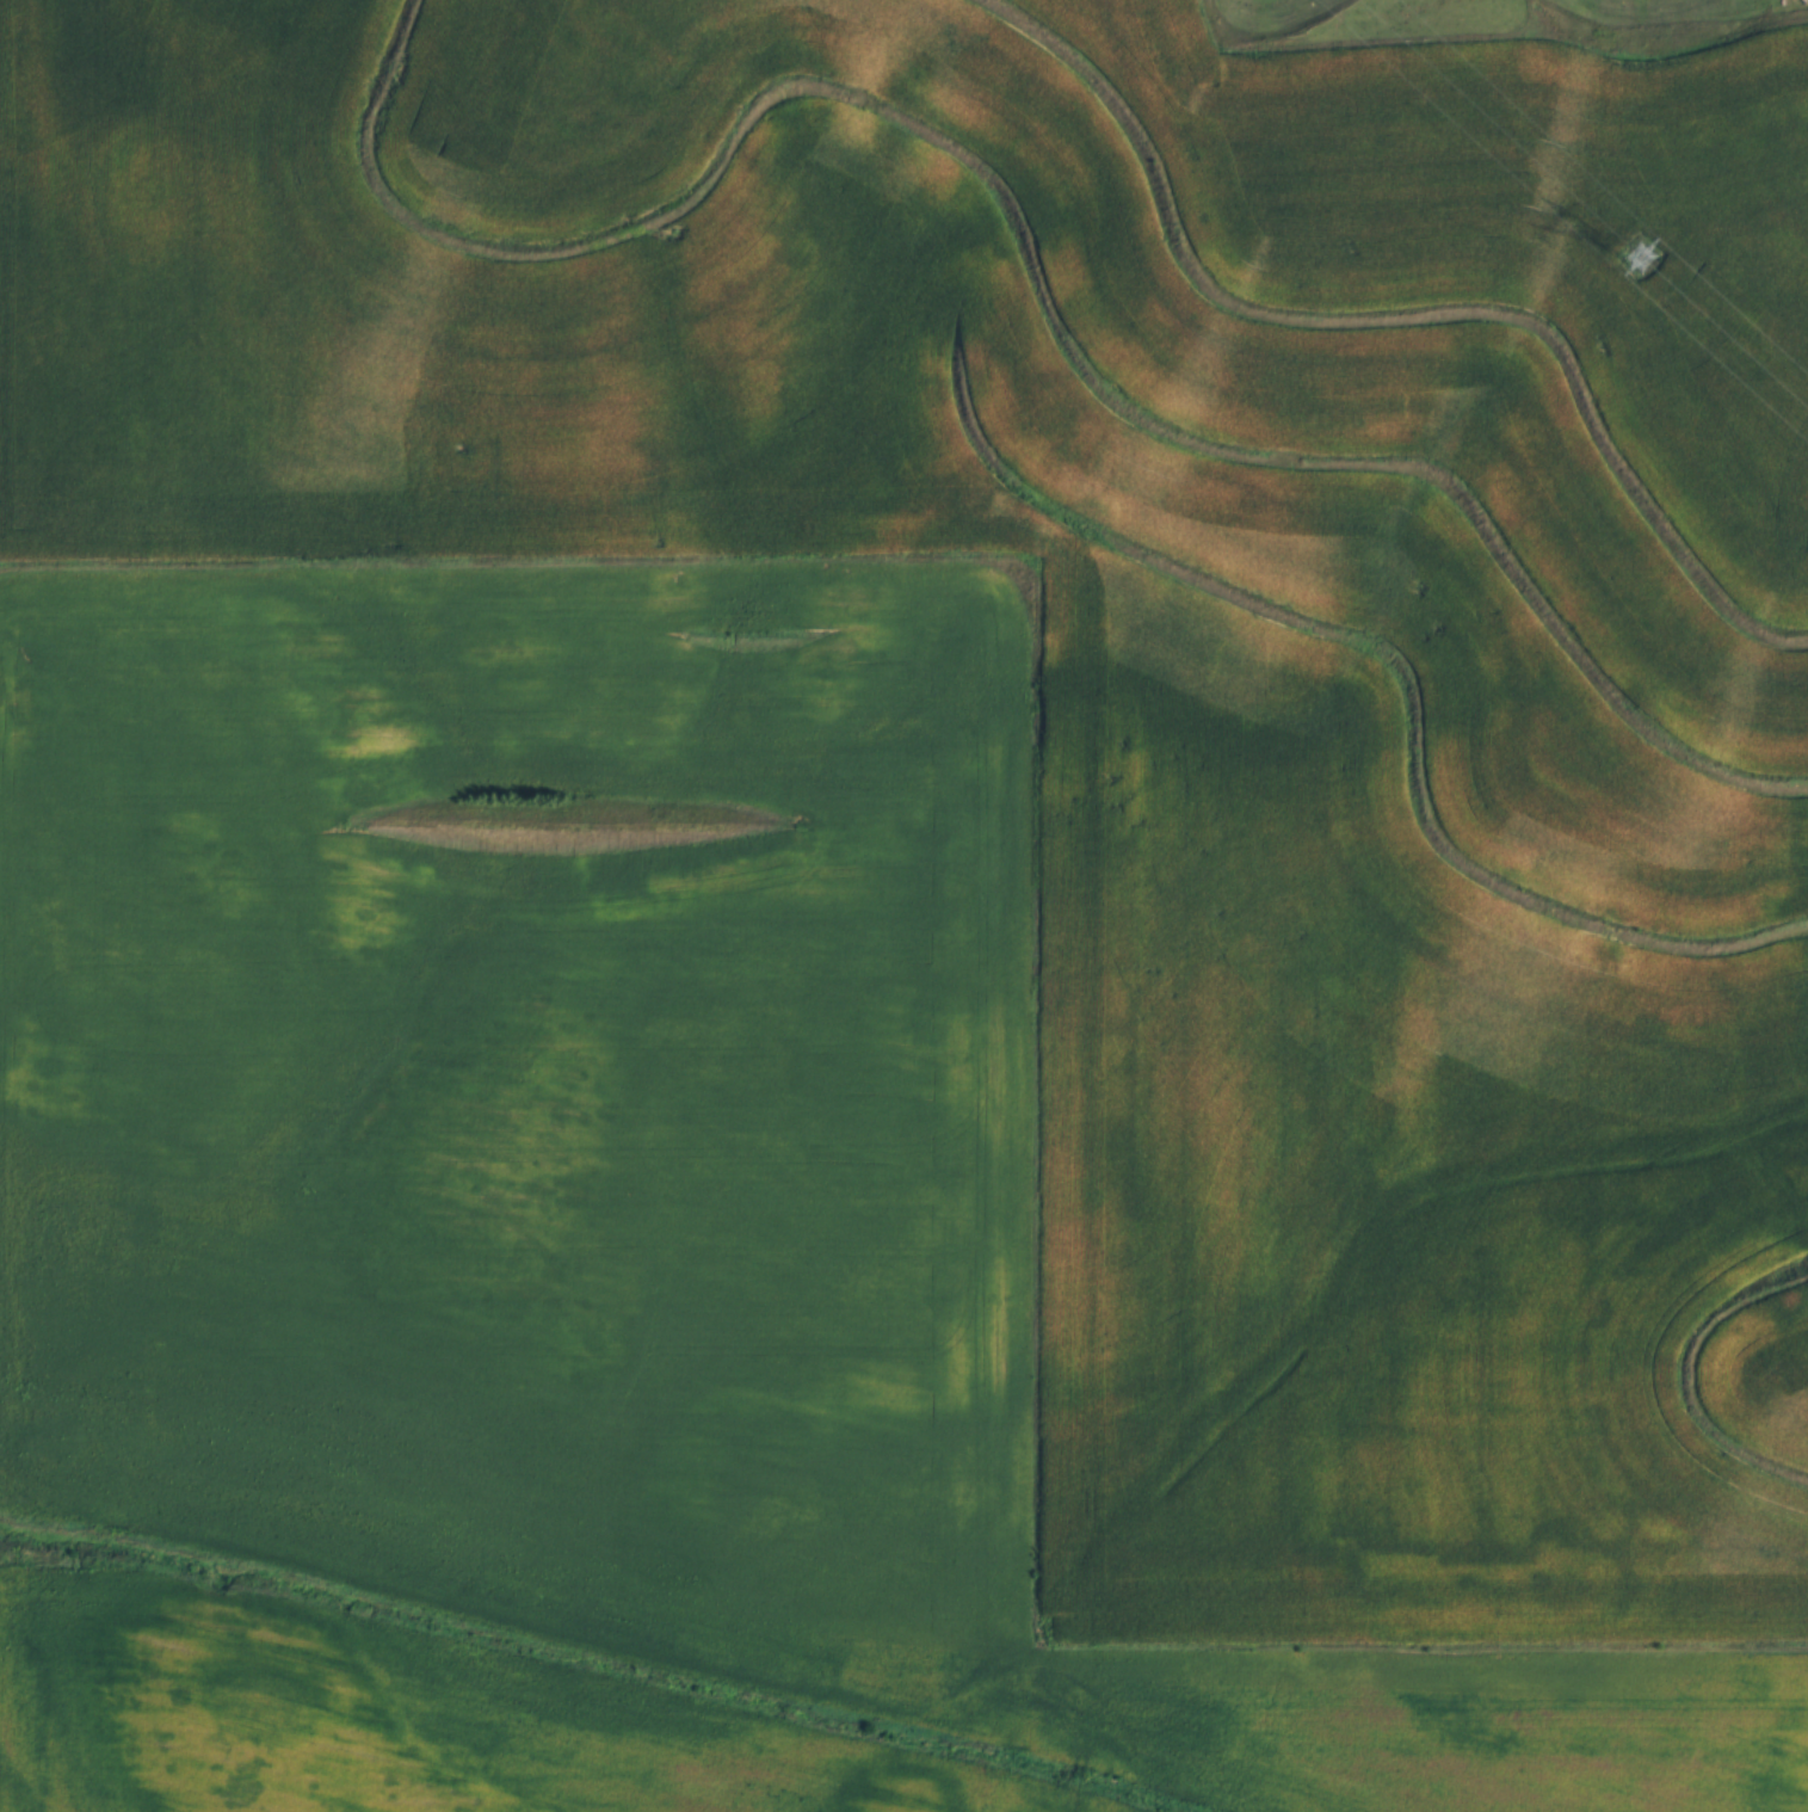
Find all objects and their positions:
power tower: (1670, 275)

